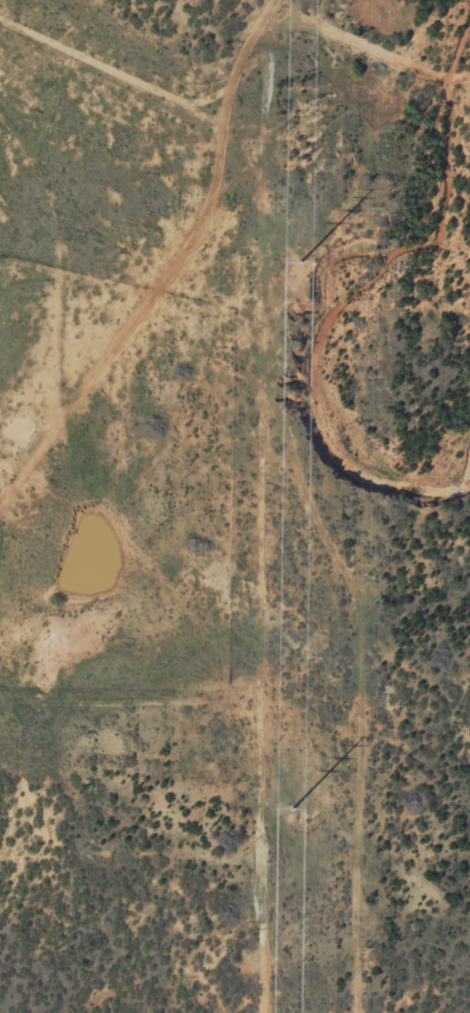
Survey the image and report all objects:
road: (99, 65)
road: (188, 176)
power tower: (374, 205)
power tower: (301, 262)
power tower: (371, 579)
power tower: (293, 809)
power tower: (363, 946)

